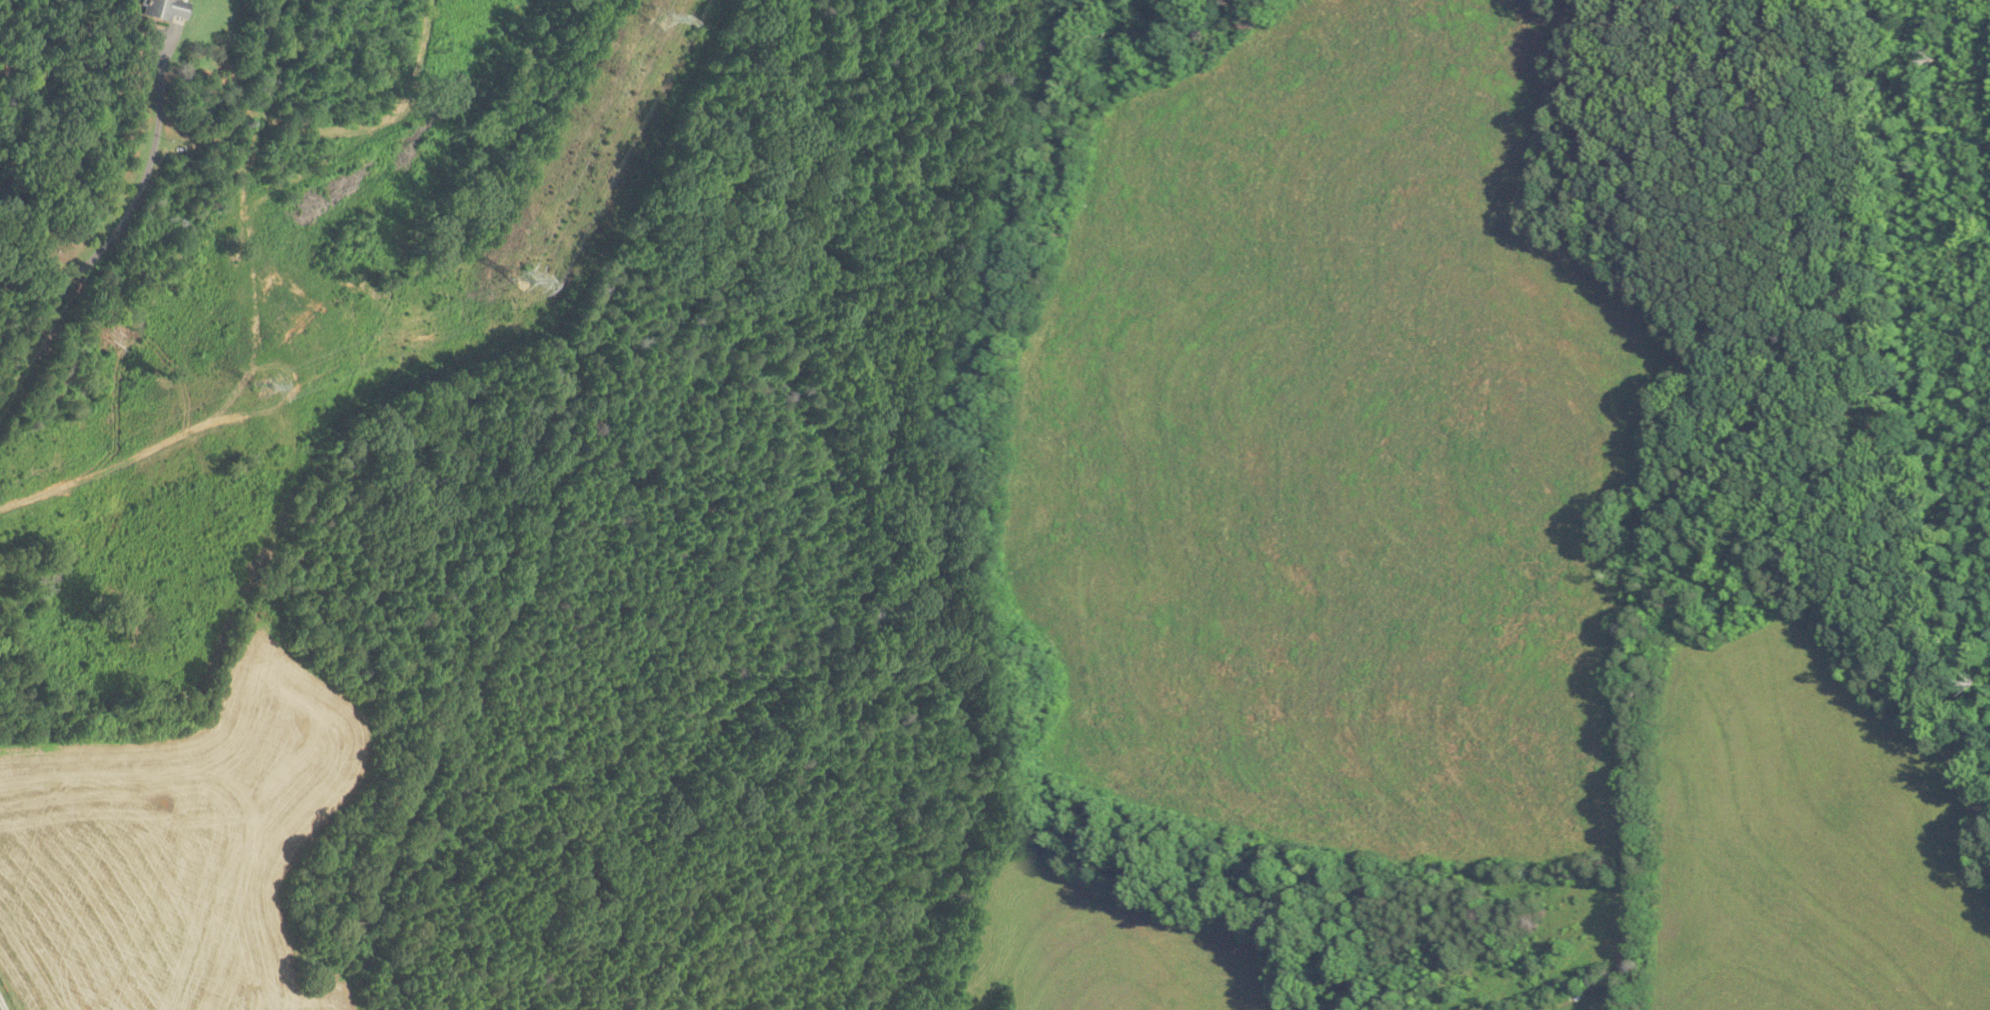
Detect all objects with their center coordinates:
building: (165, 10)
power tower: (662, 15)
road: (130, 207)
power tower: (526, 277)
power tower: (265, 387)
road: (2, 1004)

